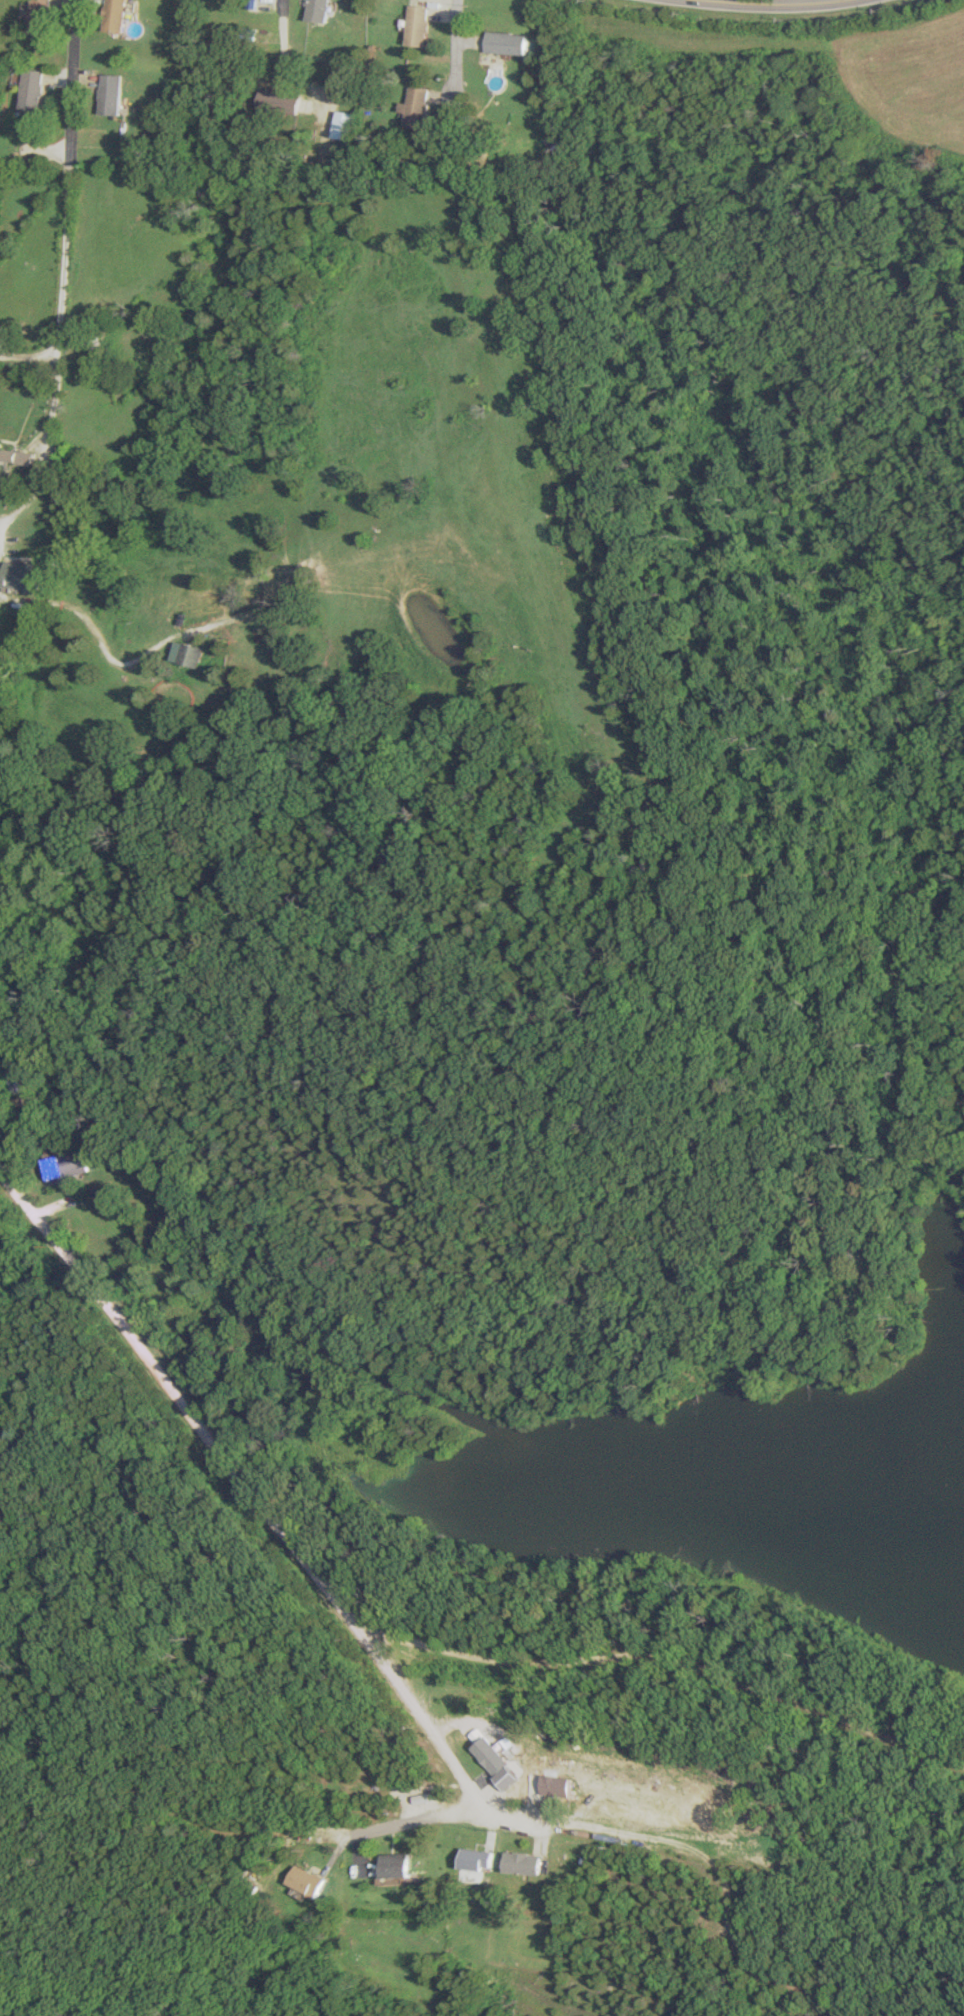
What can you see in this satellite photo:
road: (796, 2)
road: (767, 4)
building: (277, 7)
building: (314, 10)
building: (115, 15)
building: (37, 16)
building: (417, 25)
road: (278, 39)
building: (507, 42)
road: (459, 58)
building: (31, 89)
building: (111, 94)
building: (269, 99)
building: (415, 108)
building: (342, 124)
road: (67, 176)
road: (28, 353)
road: (51, 430)
building: (27, 458)
road: (13, 513)
road: (1, 541)
building: (28, 574)
road: (82, 612)
building: (187, 653)
building: (12, 1081)
building: (63, 1165)
road: (177, 1405)
road: (669, 1659)
road: (420, 1722)
building: (495, 1762)
building: (554, 1783)
road: (413, 1821)
road: (526, 1822)
road: (618, 1833)
building: (471, 1859)
building: (517, 1863)
building: (390, 1864)
building: (304, 1880)

